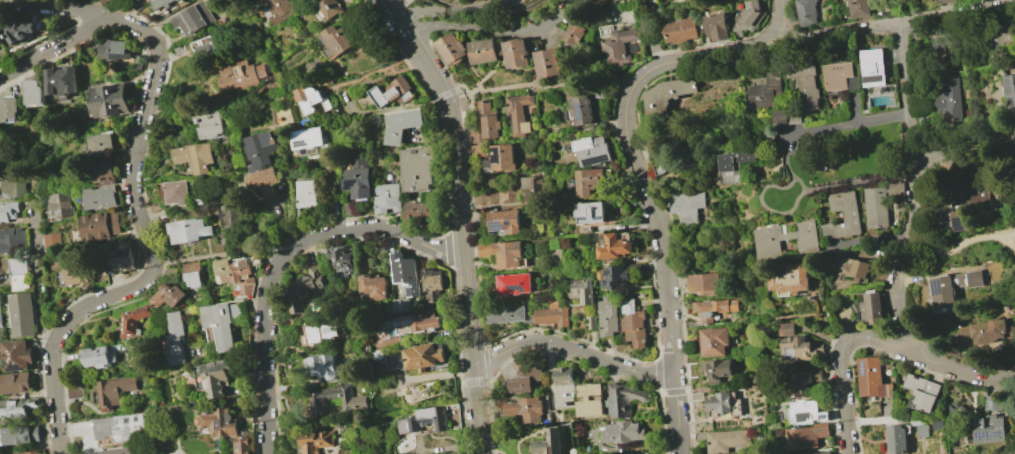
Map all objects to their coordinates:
building: (219, 1)
building: (950, 1)
building: (161, 3)
road: (418, 5)
road: (53, 7)
building: (330, 8)
road: (477, 8)
building: (859, 8)
building: (276, 9)
road: (420, 11)
building: (806, 12)
road: (39, 16)
building: (749, 16)
building: (192, 18)
road: (782, 20)
building: (717, 26)
road: (894, 26)
road: (494, 29)
building: (680, 30)
road: (948, 31)
building: (21, 32)
building: (571, 32)
building: (1005, 35)
building: (337, 40)
building: (209, 44)
building: (621, 45)
road: (53, 47)
building: (452, 49)
building: (112, 50)
building: (484, 51)
building: (516, 55)
road: (705, 56)
building: (548, 63)
building: (872, 67)
road: (377, 74)
building: (241, 76)
building: (838, 77)
rooftop solar panel: (872, 77)
building: (59, 81)
building: (803, 82)
road: (535, 83)
building: (766, 91)
building: (391, 92)
road: (467, 92)
building: (33, 93)
road: (445, 94)
building: (1010, 96)
building: (667, 97)
building: (311, 99)
building: (110, 100)
building: (946, 101)
building: (323, 106)
road: (397, 108)
rooftop solar panel: (581, 108)
building: (8, 109)
building: (581, 110)
building: (518, 112)
road: (894, 116)
building: (488, 118)
building: (778, 118)
building: (211, 124)
building: (403, 124)
road: (611, 126)
road: (830, 127)
building: (309, 138)
building: (102, 145)
building: (593, 149)
building: (259, 151)
building: (668, 154)
rooftop solar panel: (599, 156)
building: (195, 157)
building: (499, 158)
road: (789, 160)
road: (441, 164)
building: (734, 165)
building: (421, 168)
building: (104, 171)
park: (828, 174)
building: (358, 179)
building: (263, 181)
building: (590, 181)
road: (861, 182)
building: (13, 185)
rooftop solar panel: (352, 186)
building: (895, 188)
building: (531, 189)
road: (914, 189)
building: (176, 192)
building: (304, 196)
building: (99, 197)
building: (386, 197)
building: (966, 197)
building: (61, 204)
building: (686, 205)
building: (875, 207)
road: (772, 209)
building: (7, 210)
building: (418, 212)
building: (592, 212)
road: (667, 215)
building: (842, 215)
rooftop solar panel: (589, 216)
road: (461, 217)
rooftop solar panel: (601, 217)
building: (504, 221)
rooftop solar panel: (958, 223)
rooftop solar panel: (500, 224)
building: (232, 225)
building: (100, 226)
building: (189, 230)
road: (367, 237)
building: (1014, 237)
building: (11, 240)
building: (51, 240)
road: (877, 240)
road: (150, 244)
building: (768, 245)
road: (957, 246)
building: (614, 247)
road: (448, 248)
building: (501, 252)
building: (122, 256)
road: (214, 256)
building: (342, 258)
road: (281, 260)
road: (666, 262)
building: (854, 268)
building: (18, 273)
building: (406, 273)
building: (192, 274)
road: (40, 275)
building: (238, 275)
building: (76, 276)
building: (614, 277)
building: (790, 279)
building: (432, 283)
building: (513, 283)
building: (703, 283)
building: (372, 286)
building: (952, 287)
building: (303, 289)
building: (580, 290)
building: (168, 296)
building: (400, 305)
building: (715, 308)
building: (874, 309)
building: (22, 314)
building: (505, 314)
building: (550, 315)
building: (845, 316)
building: (607, 317)
building: (134, 320)
building: (224, 322)
building: (590, 322)
building: (0, 323)
building: (632, 323)
building: (414, 324)
building: (985, 331)
building: (318, 333)
building: (212, 335)
building: (176, 338)
road: (879, 340)
building: (714, 341)
building: (793, 344)
road: (574, 349)
building: (18, 355)
building: (423, 356)
road: (621, 356)
building: (98, 357)
road: (565, 357)
building: (391, 360)
rooftop solar panel: (9, 361)
road: (486, 363)
building: (322, 365)
rooftop solar panel: (18, 366)
rooftop solar panel: (862, 366)
building: (716, 370)
road: (789, 371)
road: (657, 376)
building: (217, 377)
building: (562, 377)
building: (871, 378)
road: (764, 380)
building: (802, 380)
road: (473, 382)
building: (15, 383)
building: (515, 385)
road: (734, 389)
building: (74, 390)
building: (114, 391)
road: (672, 392)
building: (922, 394)
building: (338, 397)
building: (624, 399)
building: (589, 400)
building: (723, 403)
building: (993, 403)
building: (18, 408)
building: (522, 408)
building: (801, 411)
building: (955, 412)
building: (424, 421)
building: (219, 422)
building: (936, 424)
building: (119, 426)
building: (989, 429)
building: (922, 430)
building: (622, 432)
rooftop solar panel: (991, 434)
building: (22, 435)
building: (806, 436)
building: (896, 438)
building: (727, 439)
building: (315, 441)
building: (242, 443)
building: (548, 443)
building: (115, 451)
building: (28, 452)
building: (452, 453)
building: (822, 453)

